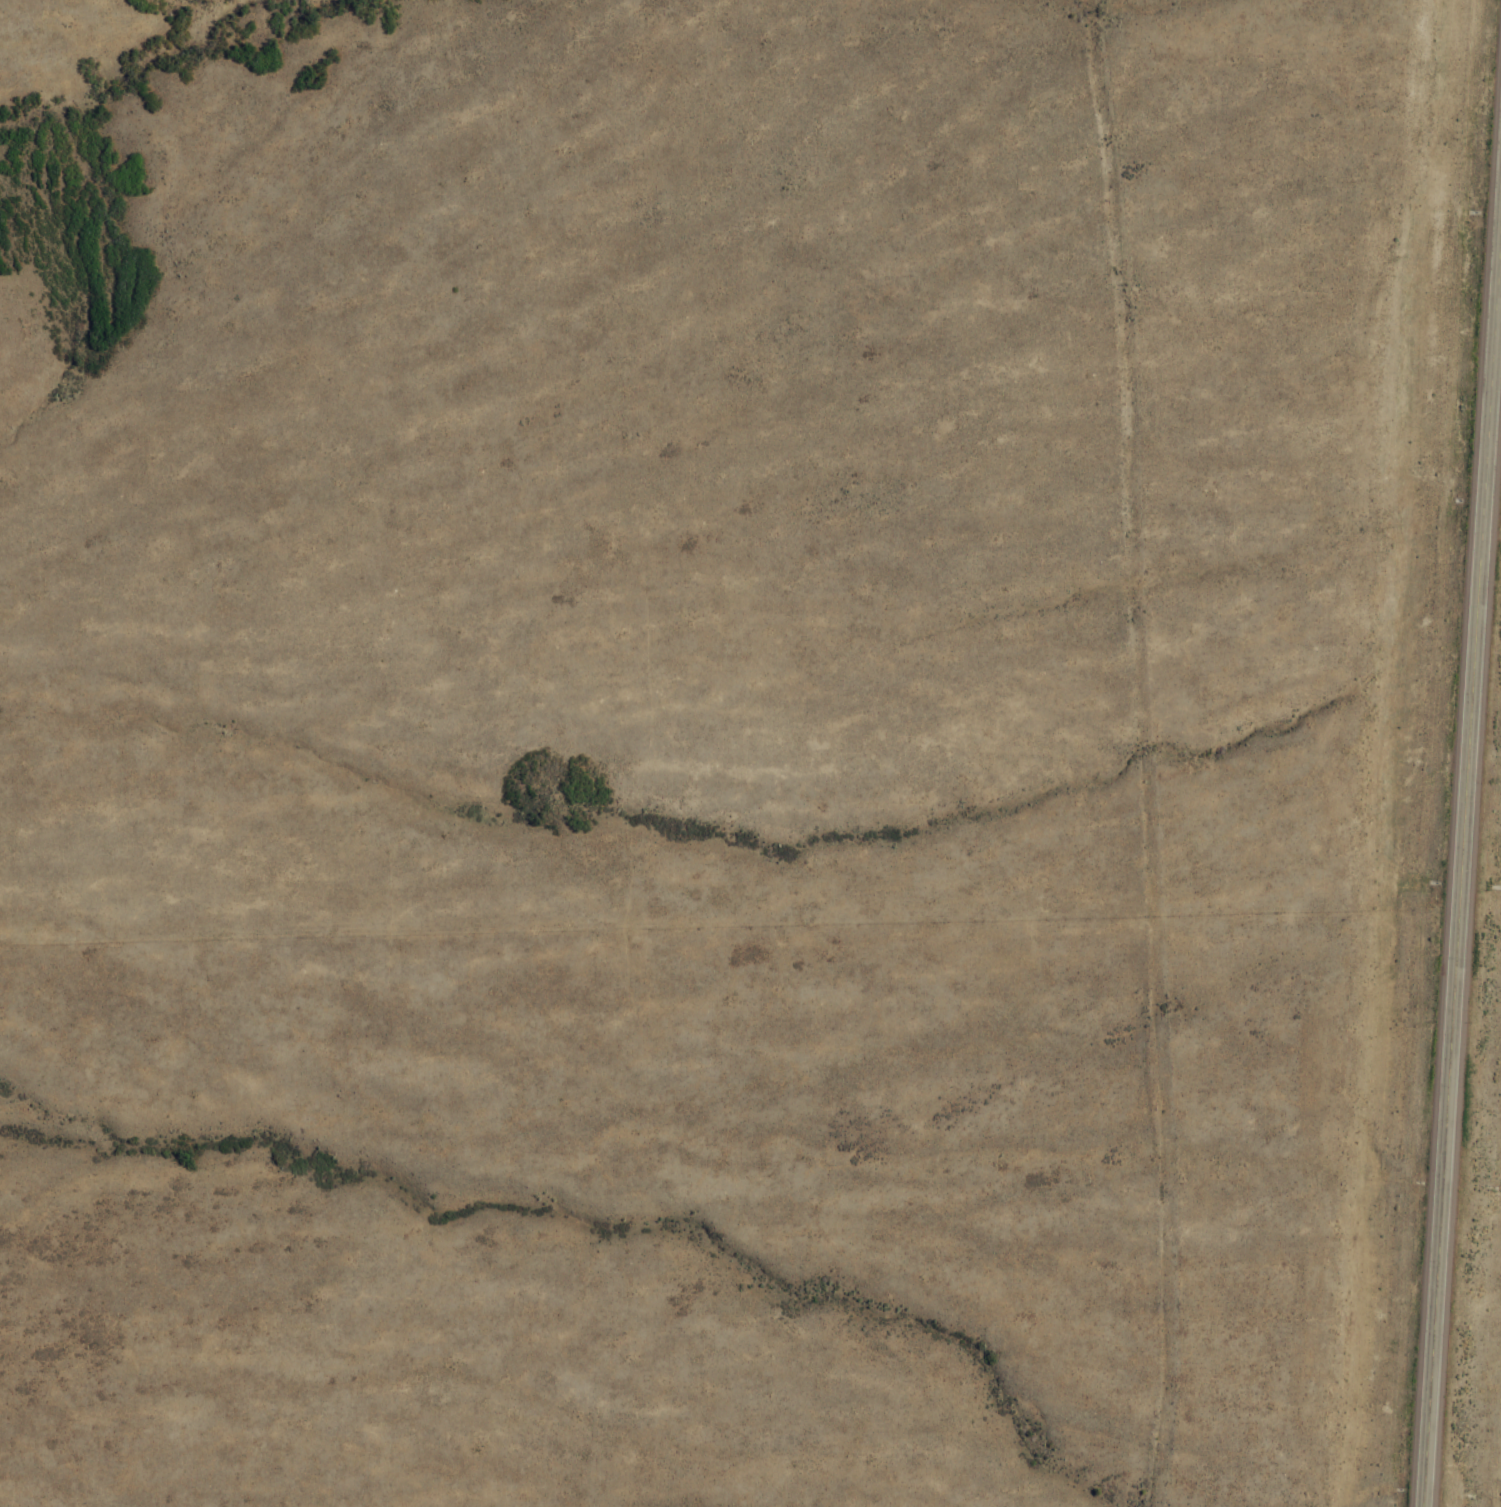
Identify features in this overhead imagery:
road: (1462, 876)

